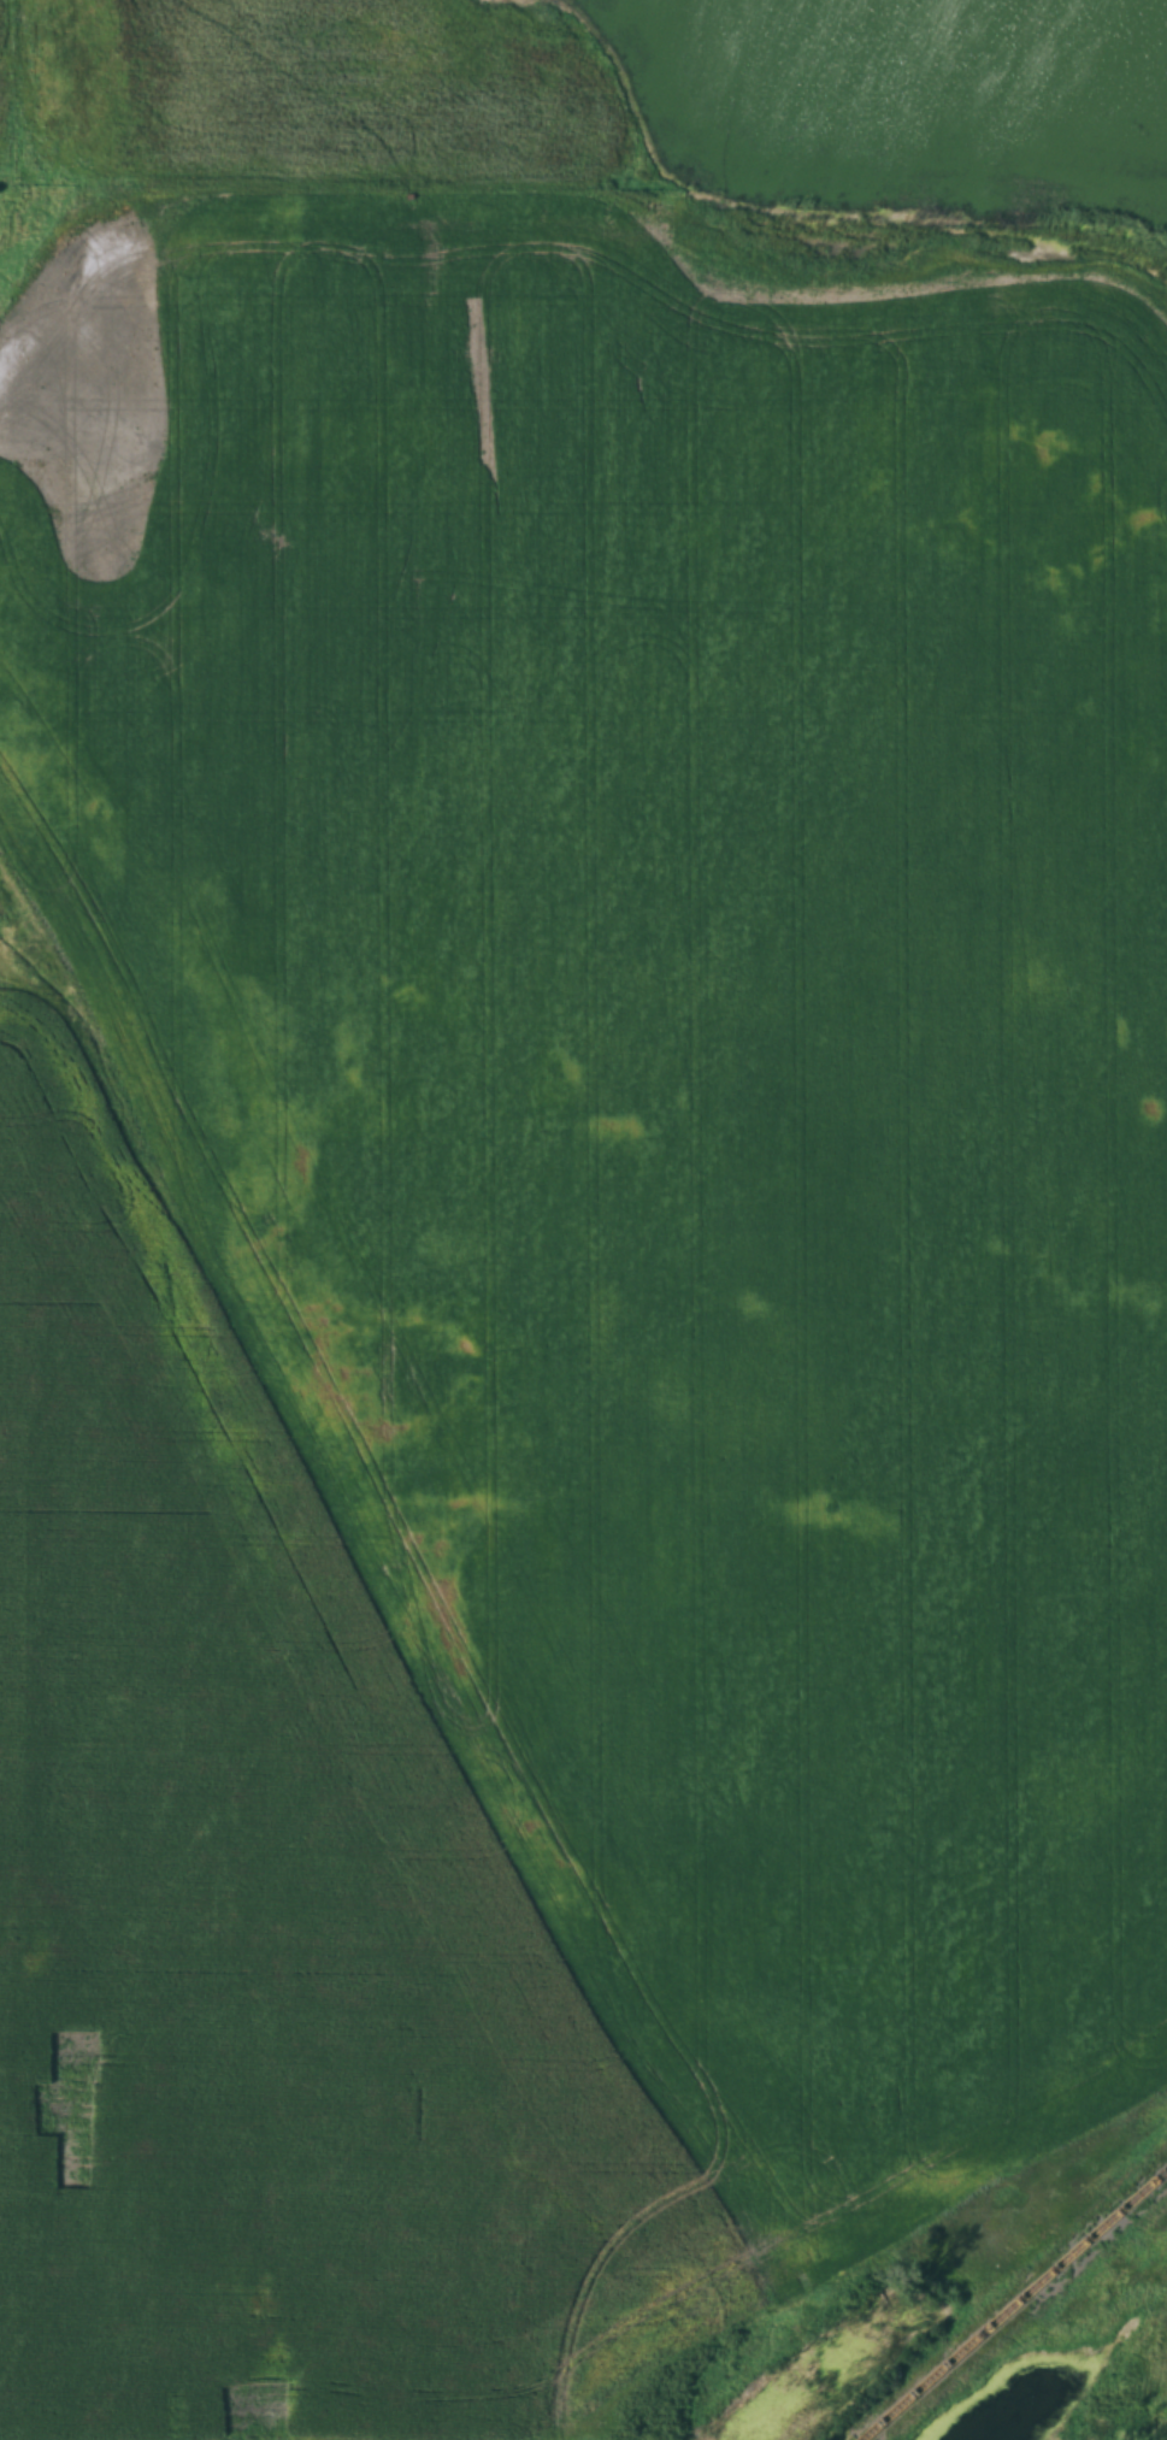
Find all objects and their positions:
railway: (1019, 2310)

